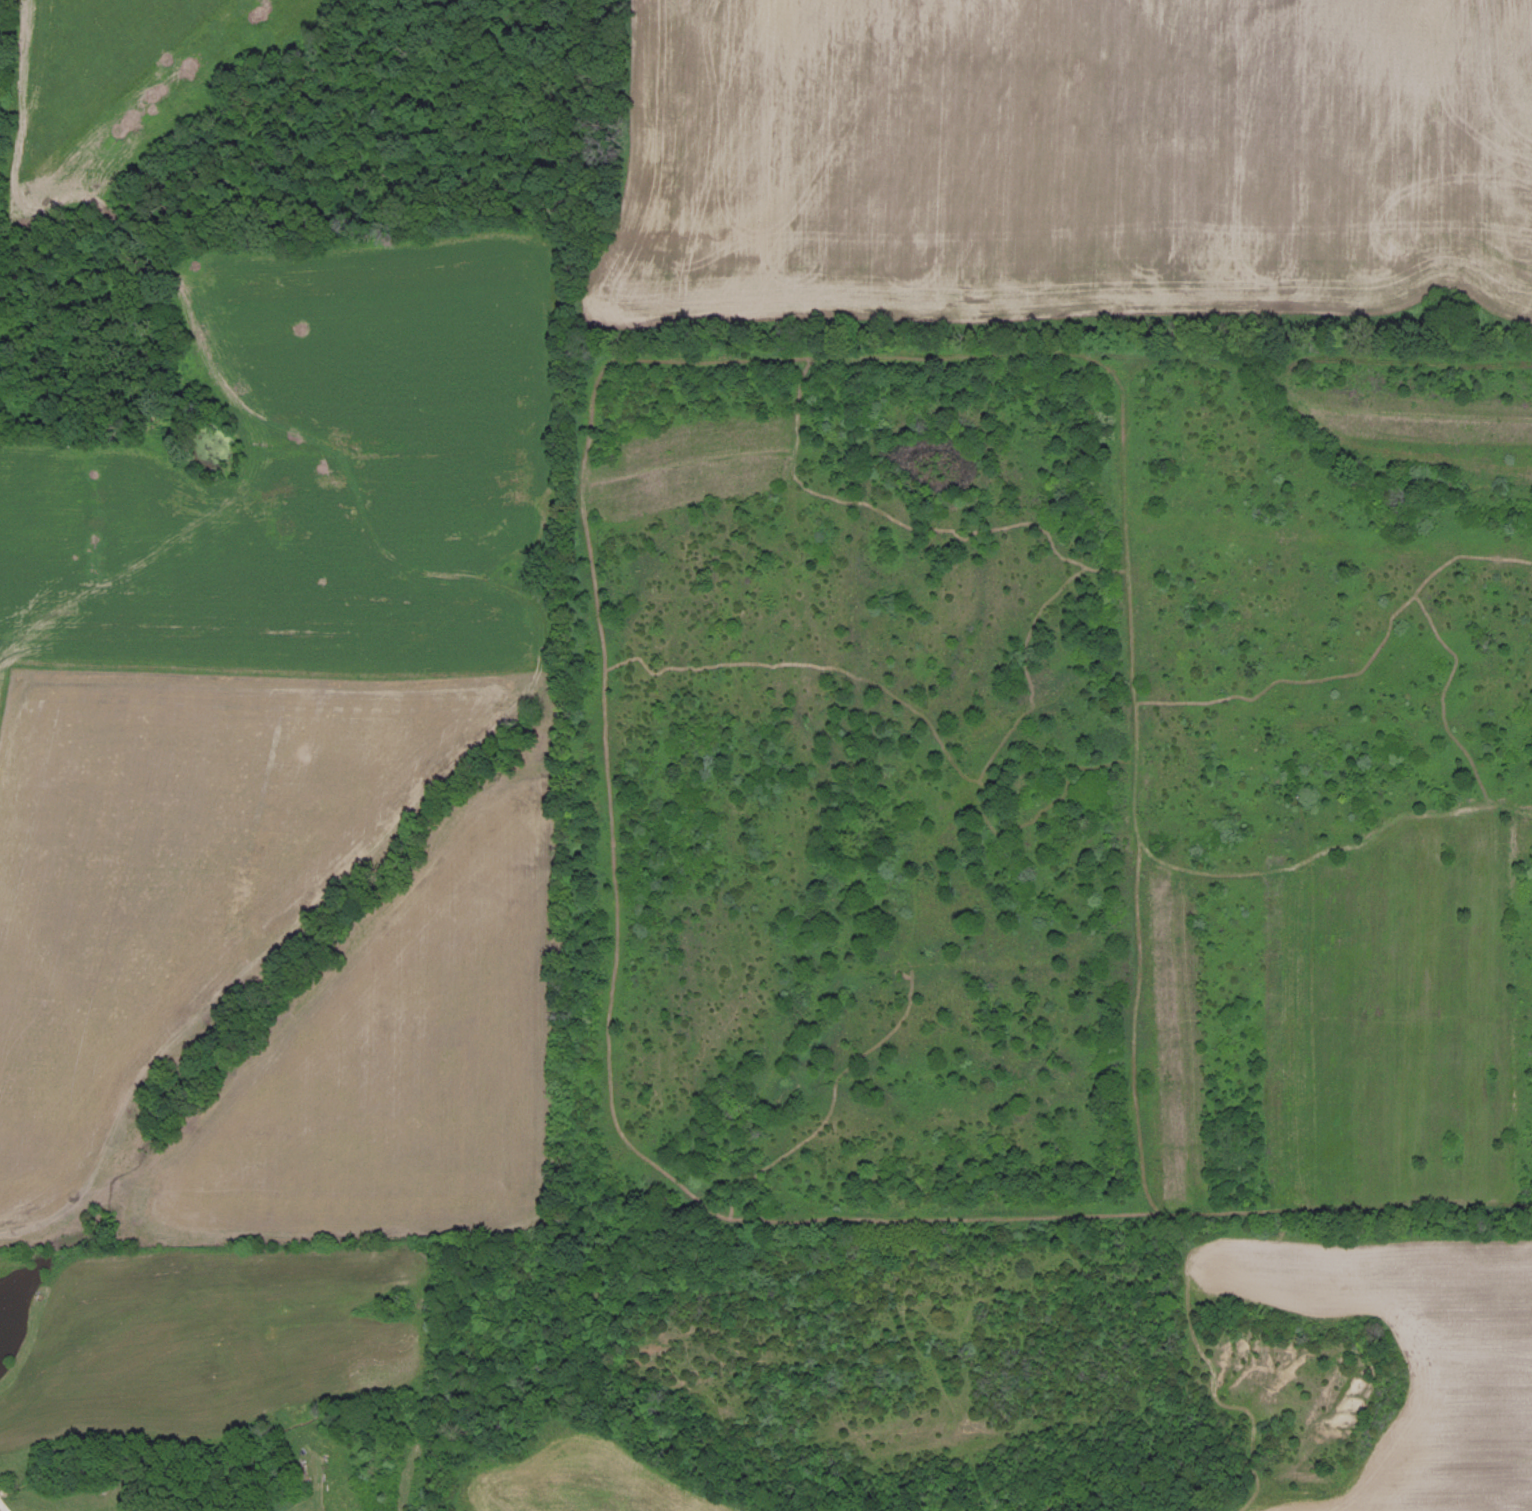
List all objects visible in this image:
road: (3, 1506)

